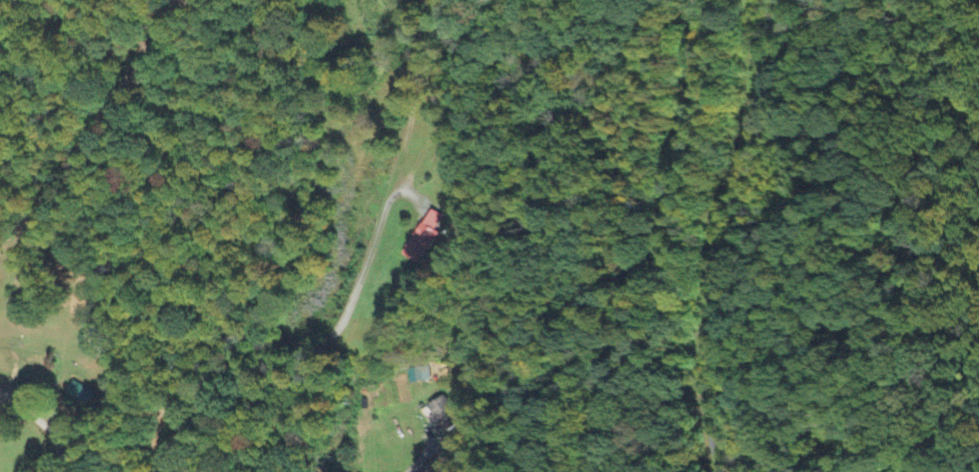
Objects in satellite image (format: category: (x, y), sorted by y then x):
road: (726, 235)
road: (661, 237)
road: (691, 237)
building: (420, 239)
road: (331, 335)
building: (420, 374)
building: (79, 394)
building: (442, 415)

